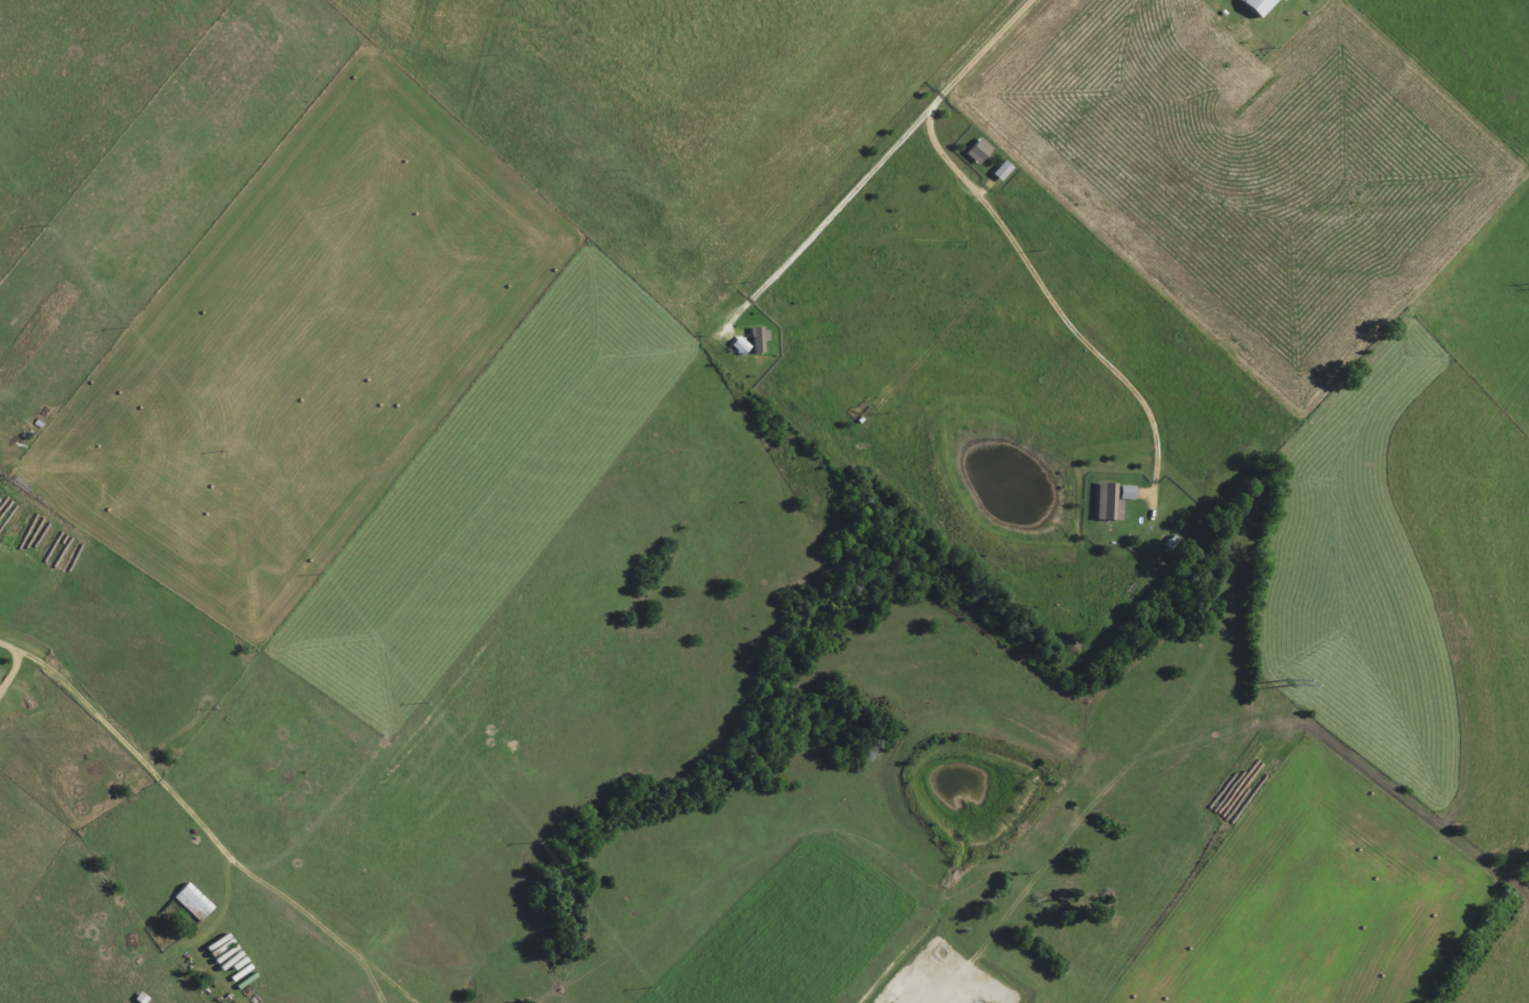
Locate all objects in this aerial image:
building: (1261, 6)
building: (980, 151)
road: (878, 159)
building: (1004, 171)
building: (761, 340)
building: (742, 346)
building: (1128, 492)
building: (1111, 502)
power tower: (1290, 680)
road: (191, 815)
building: (195, 902)

